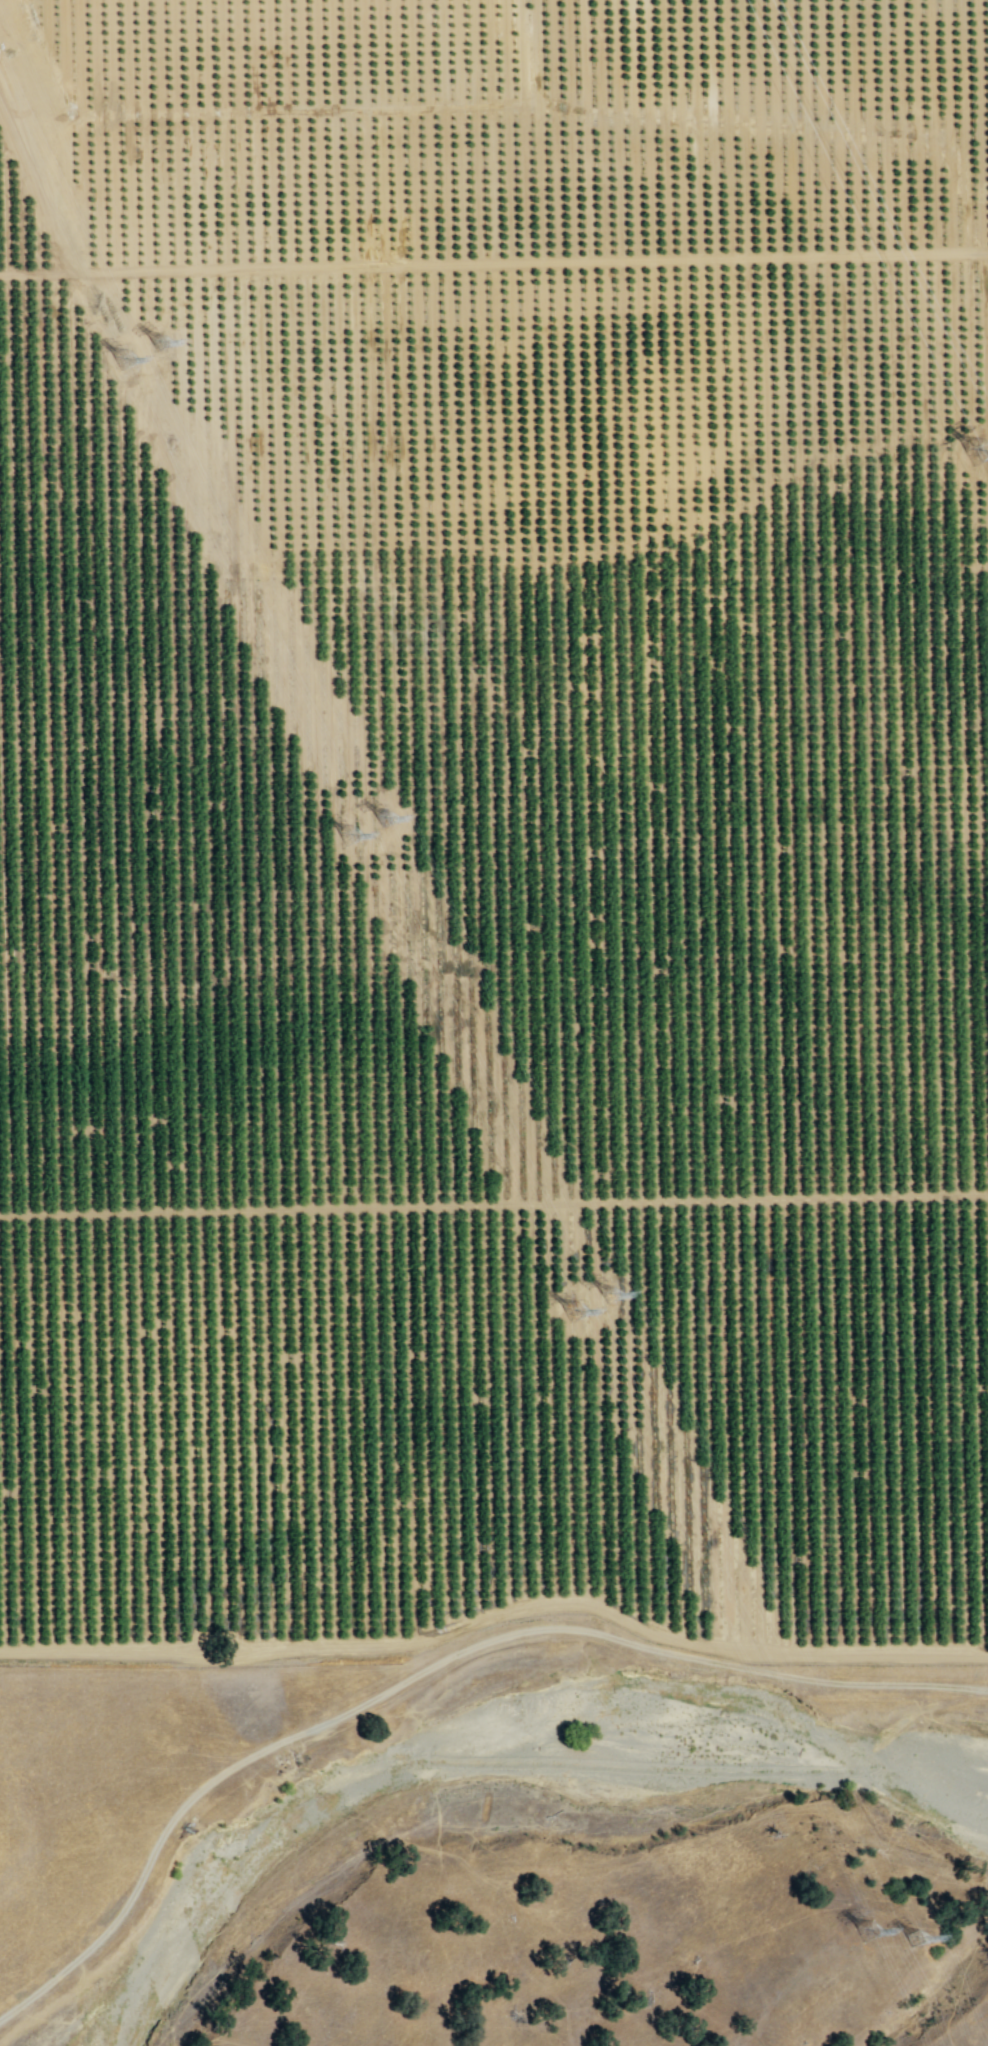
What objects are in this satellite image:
power tower: (158, 343)
power tower: (124, 360)
power tower: (382, 819)
power tower: (349, 837)
power tower: (607, 1294)
power tower: (574, 1313)
road: (431, 1668)
power tower: (865, 1932)
power tower: (911, 1939)

